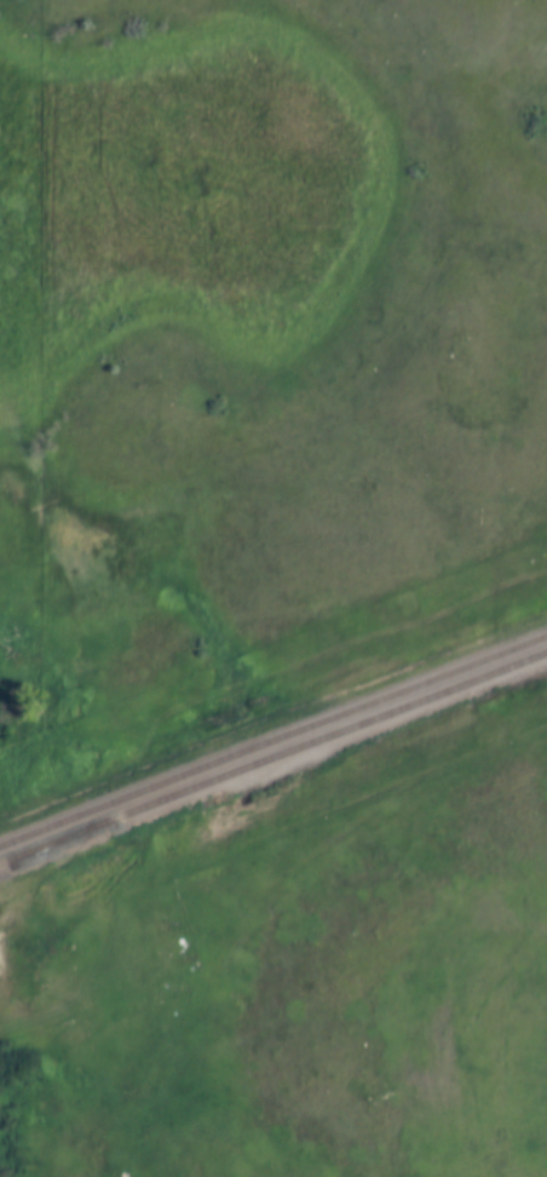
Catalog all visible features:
railway: (273, 740)
railway: (273, 756)
railway: (54, 844)

